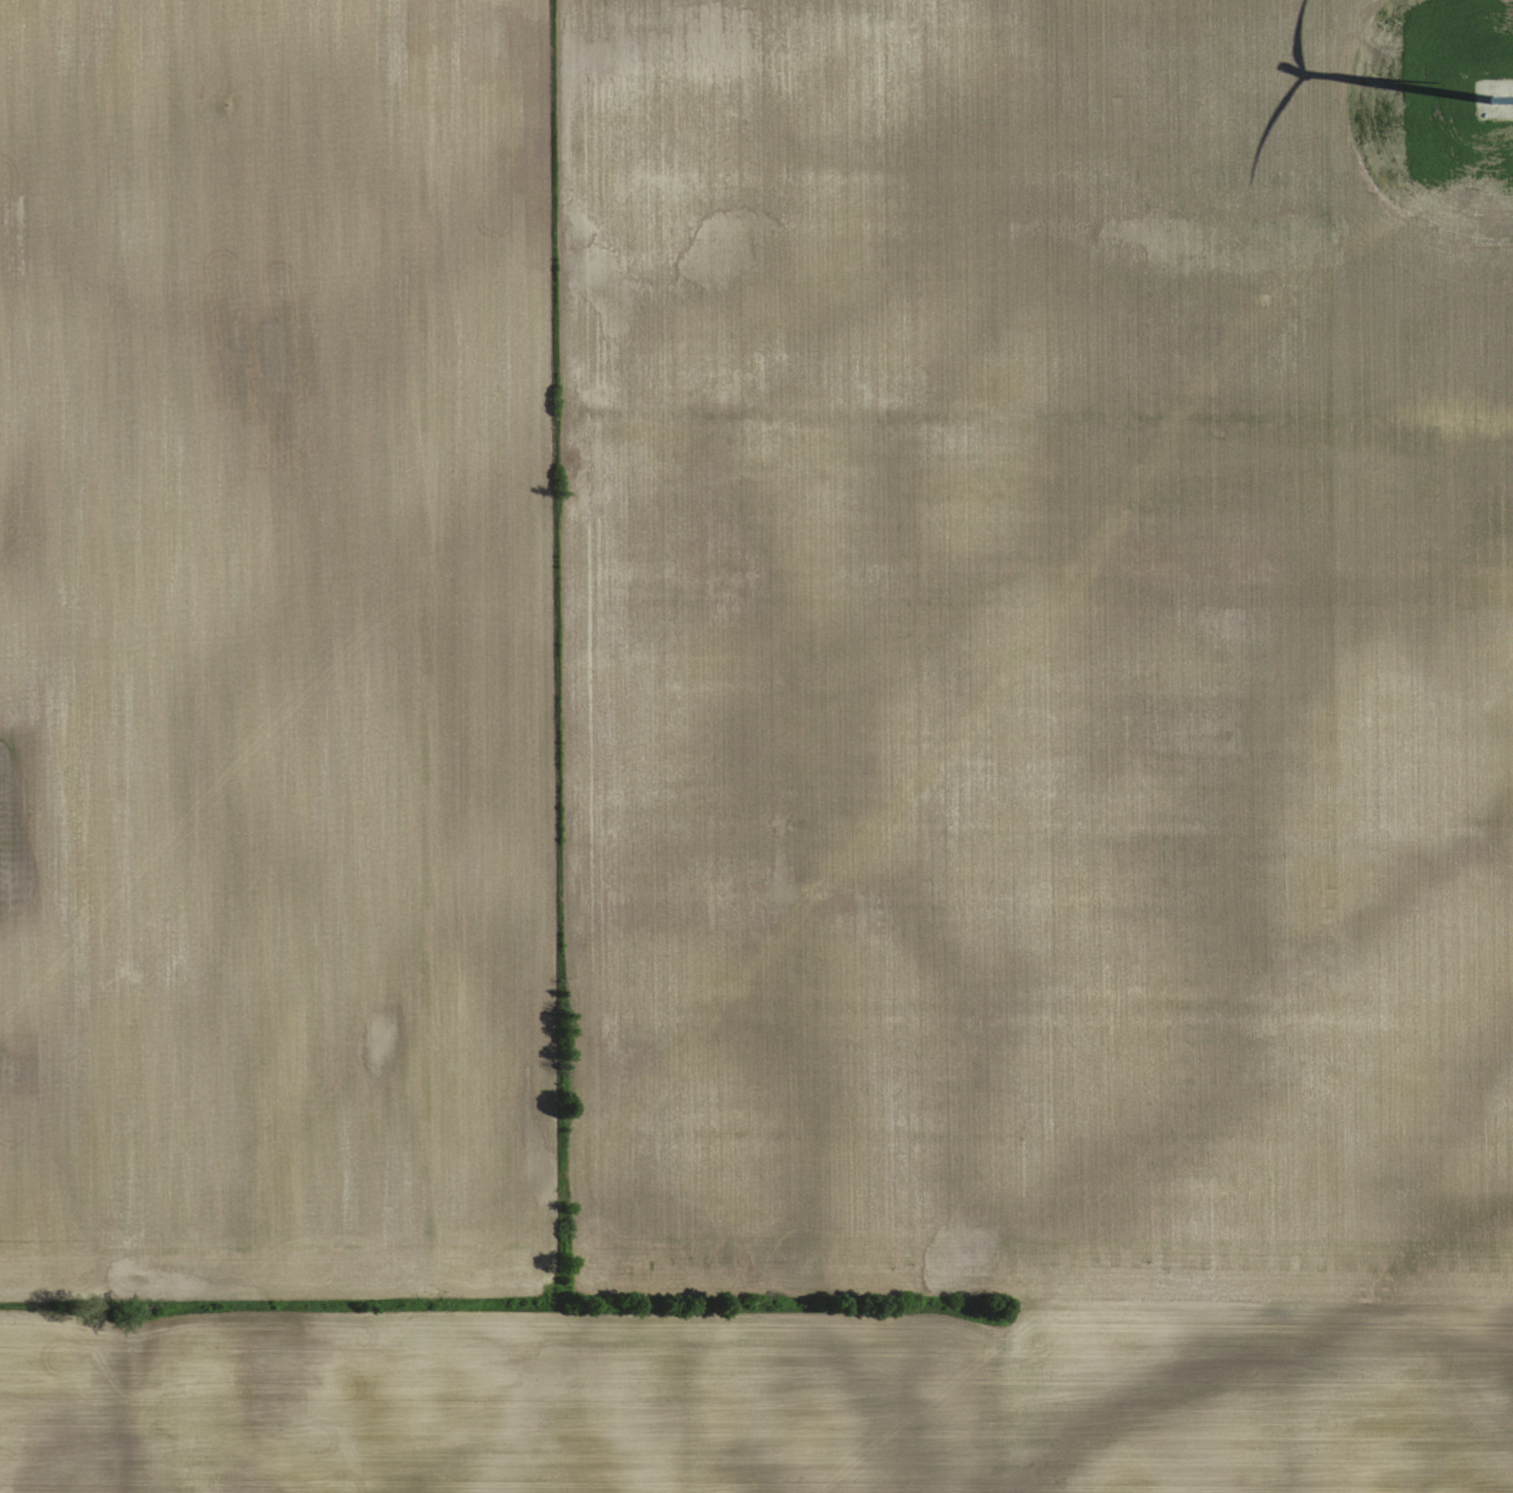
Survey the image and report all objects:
wind turbine: (1491, 96)

